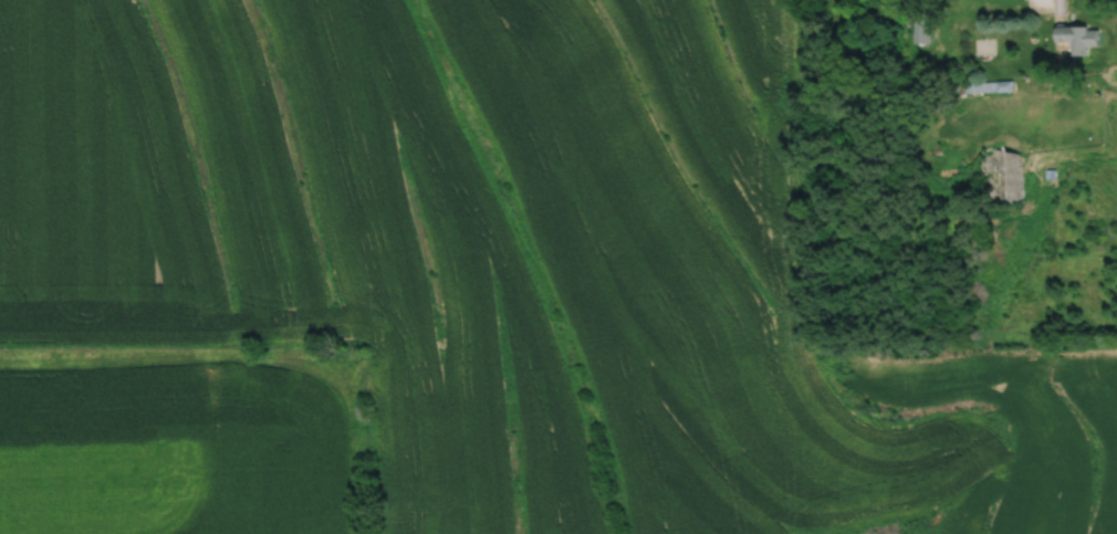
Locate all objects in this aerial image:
building: (1077, 35)
building: (989, 86)
building: (1001, 178)

